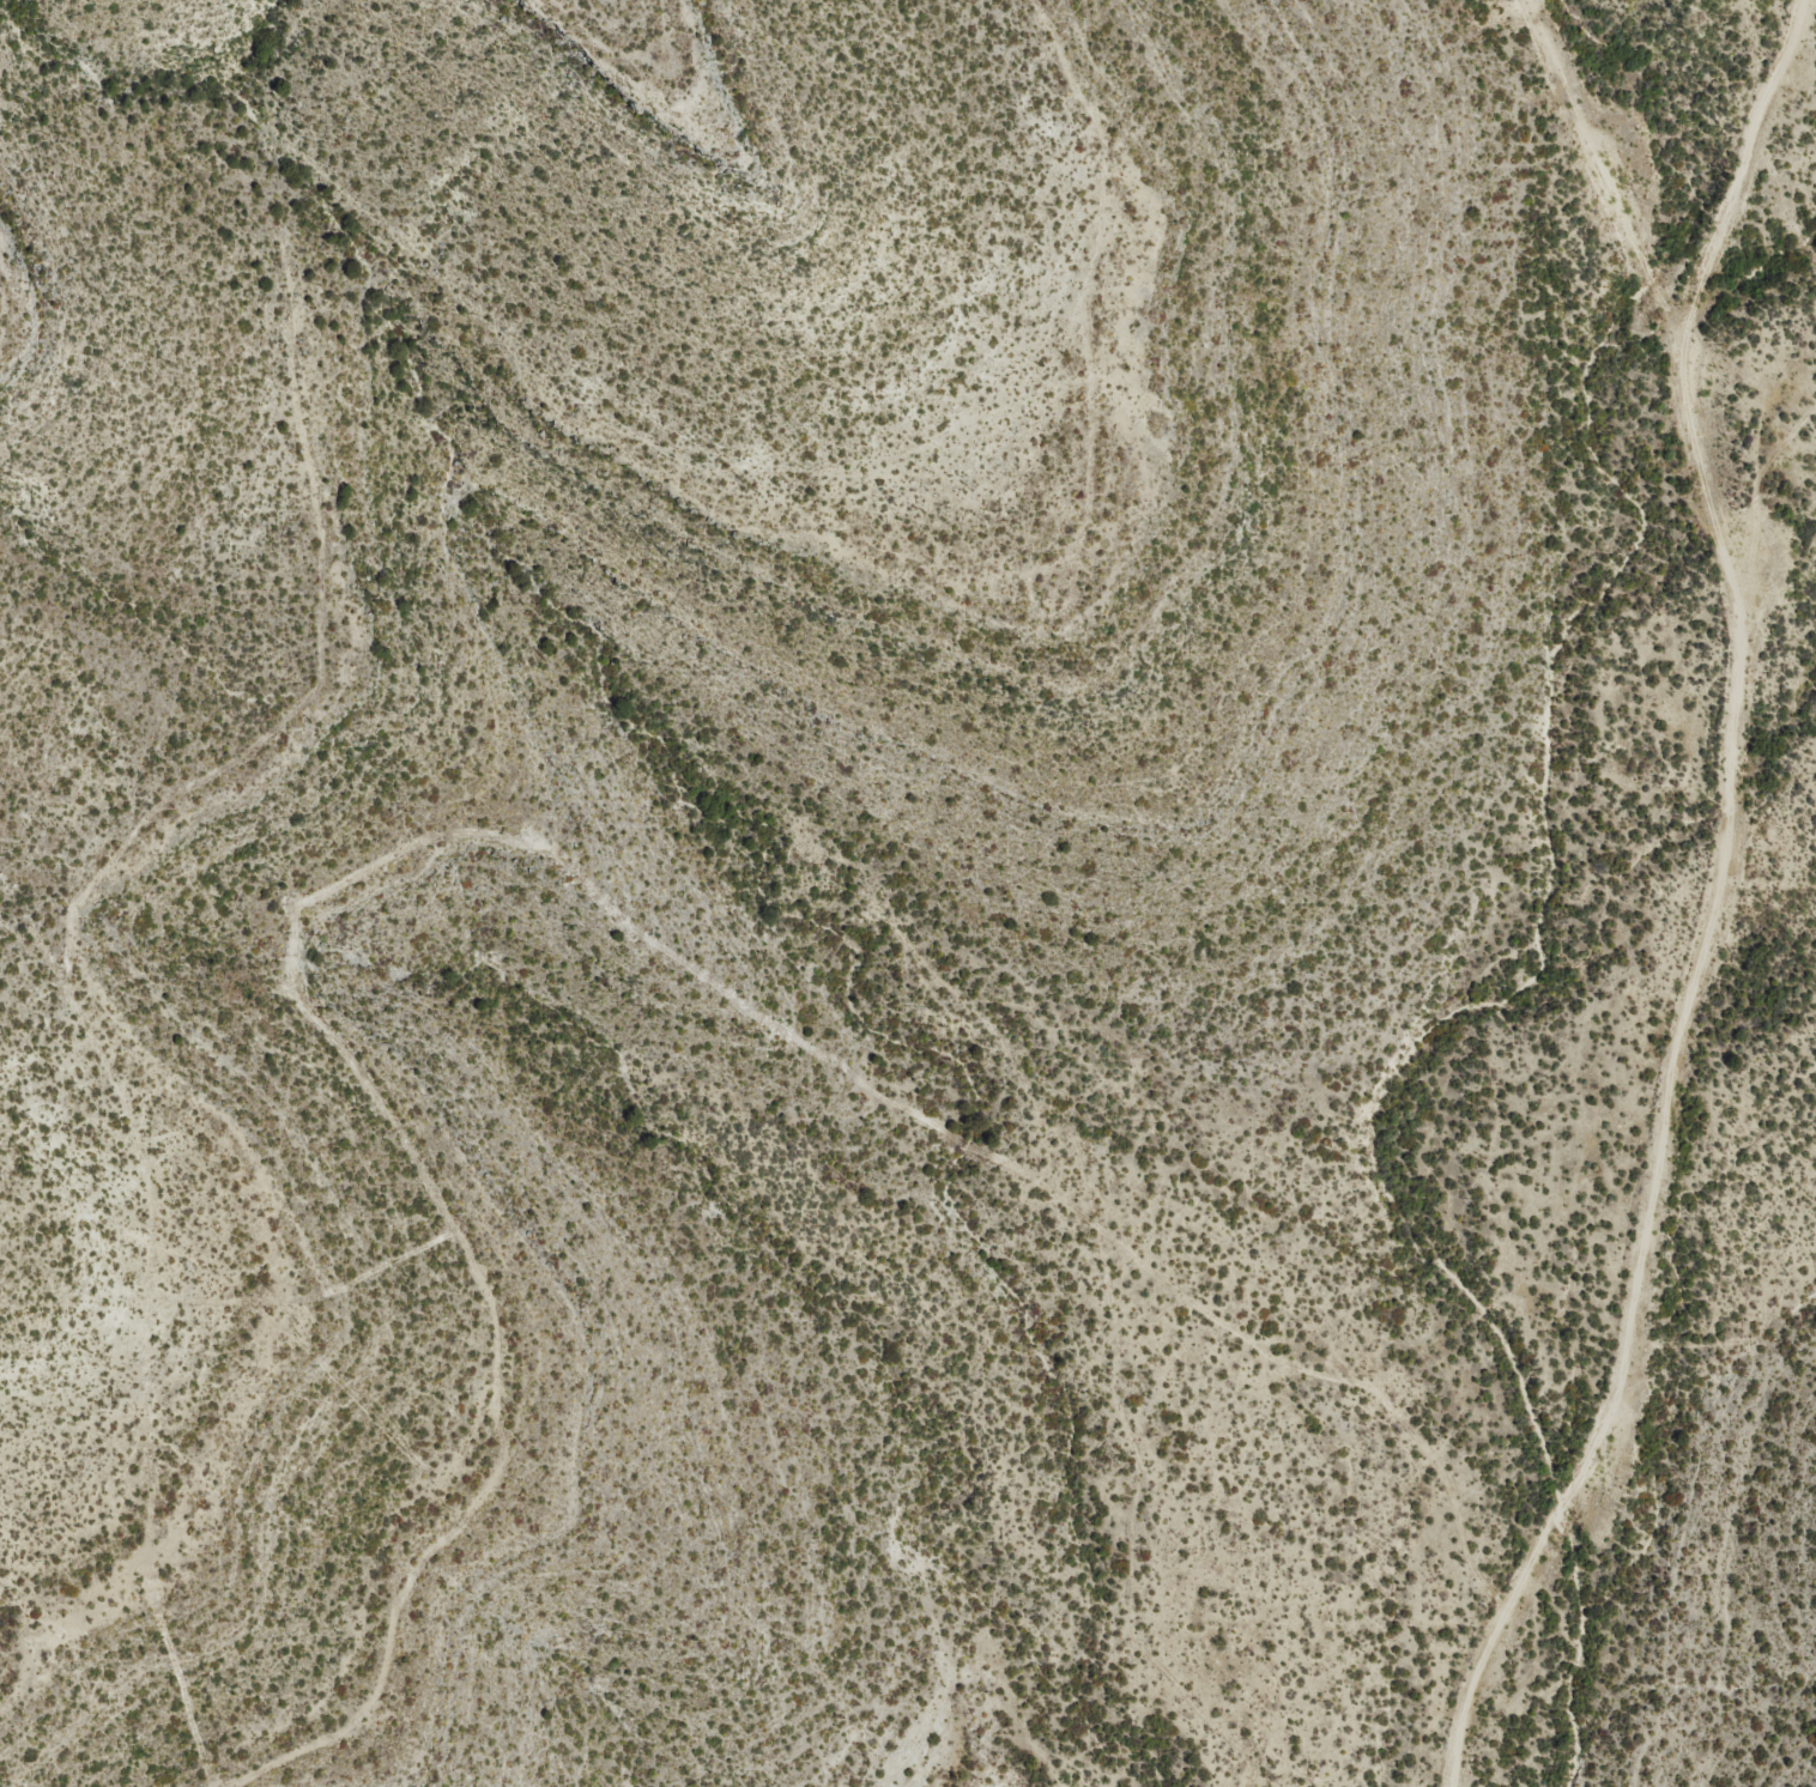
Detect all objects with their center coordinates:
road: (1750, 73)
road: (1773, 357)
road: (1736, 907)

